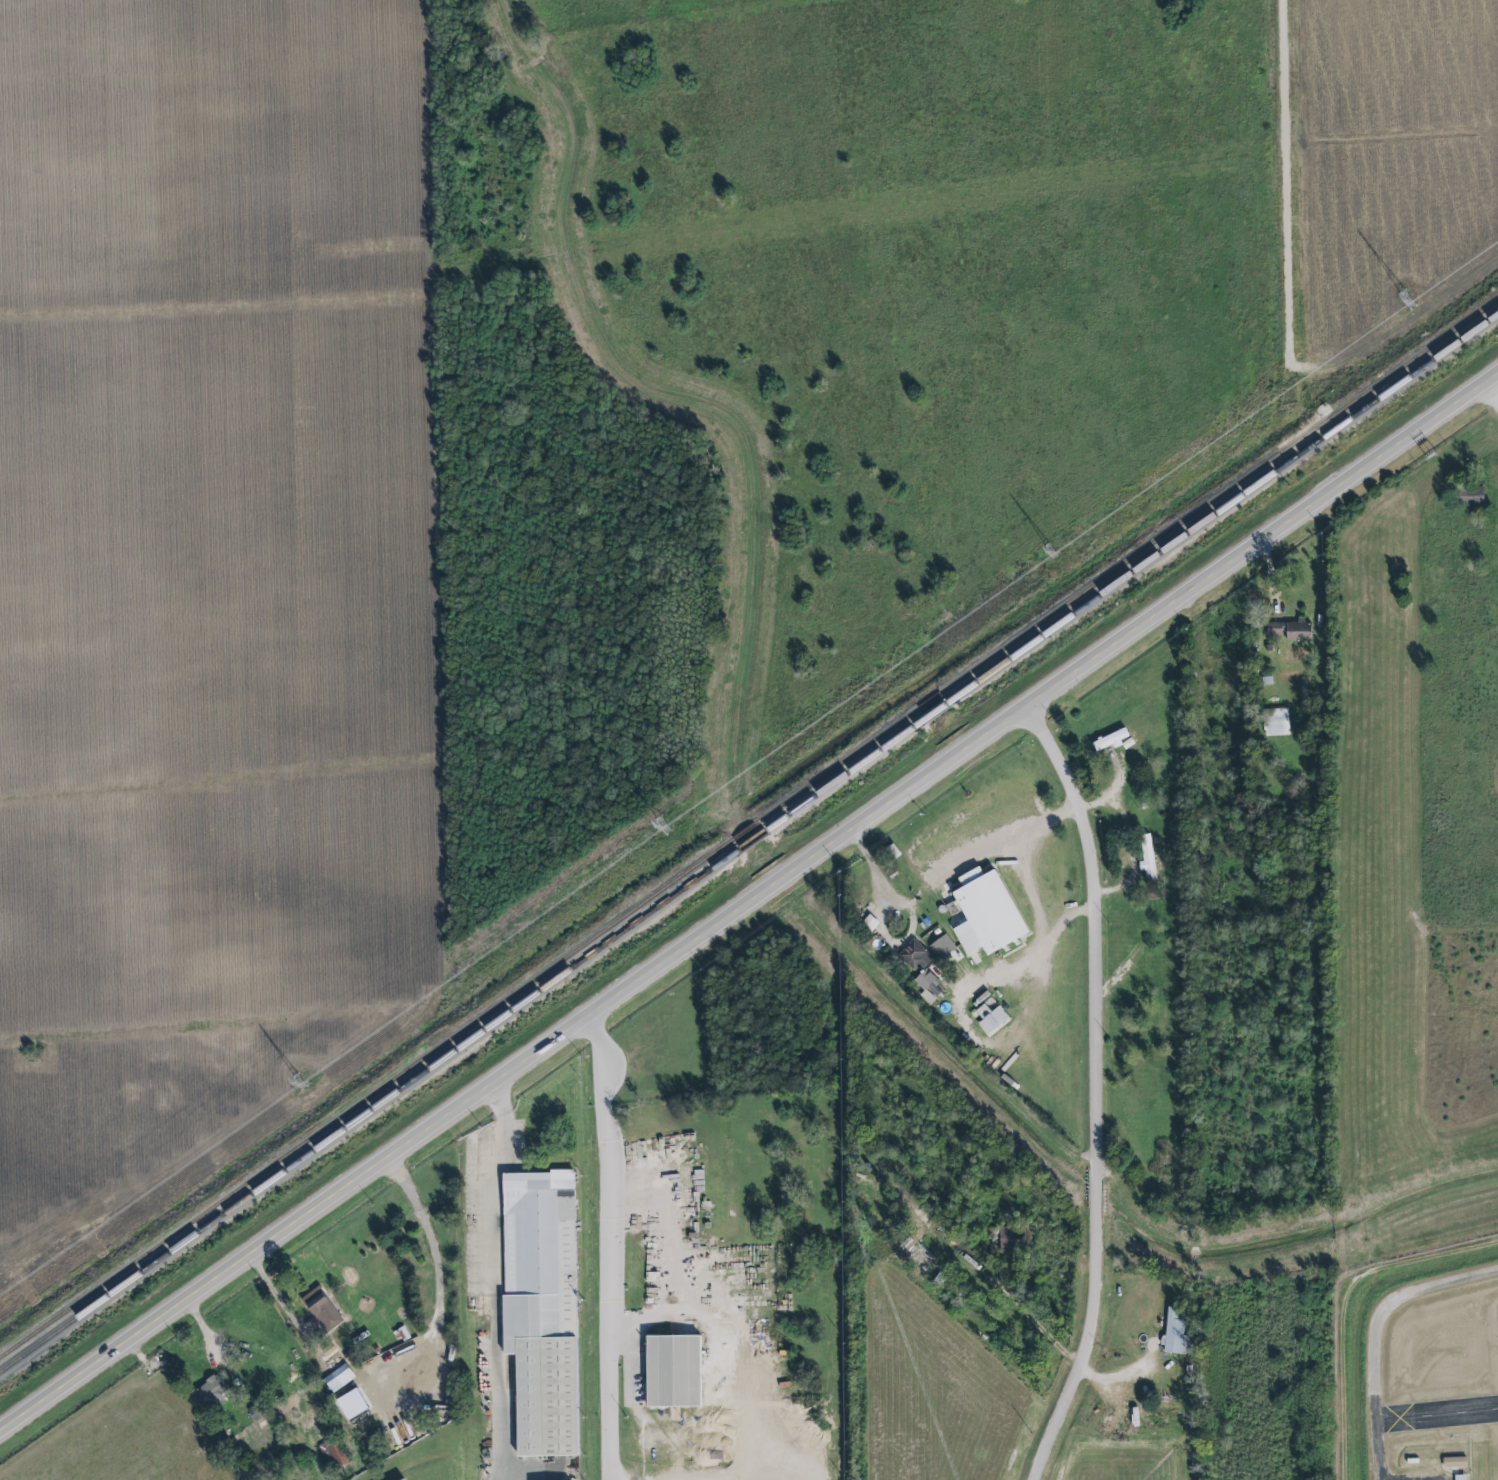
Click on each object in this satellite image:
road: (1285, 186)
power tower: (1406, 298)
road: (1493, 391)
building: (1471, 497)
power tower: (1052, 551)
building: (1291, 631)
building: (1276, 722)
building: (1110, 740)
power tower: (664, 824)
railway: (749, 826)
road: (1009, 837)
building: (1147, 857)
road: (749, 903)
road: (1036, 911)
building: (986, 912)
road: (884, 916)
building: (941, 946)
building: (915, 955)
road: (1026, 958)
building: (926, 985)
building: (990, 1018)
power tower: (302, 1083)
road: (1100, 1091)
building: (1006, 1238)
road: (610, 1246)
road: (492, 1279)
building: (319, 1306)
building: (541, 1309)
road: (1354, 1309)
road: (644, 1321)
building: (1175, 1330)
road: (432, 1331)
building: (673, 1371)
building: (337, 1378)
building: (211, 1390)
building: (336, 1454)
building: (1454, 1462)
building: (1460, 1477)

